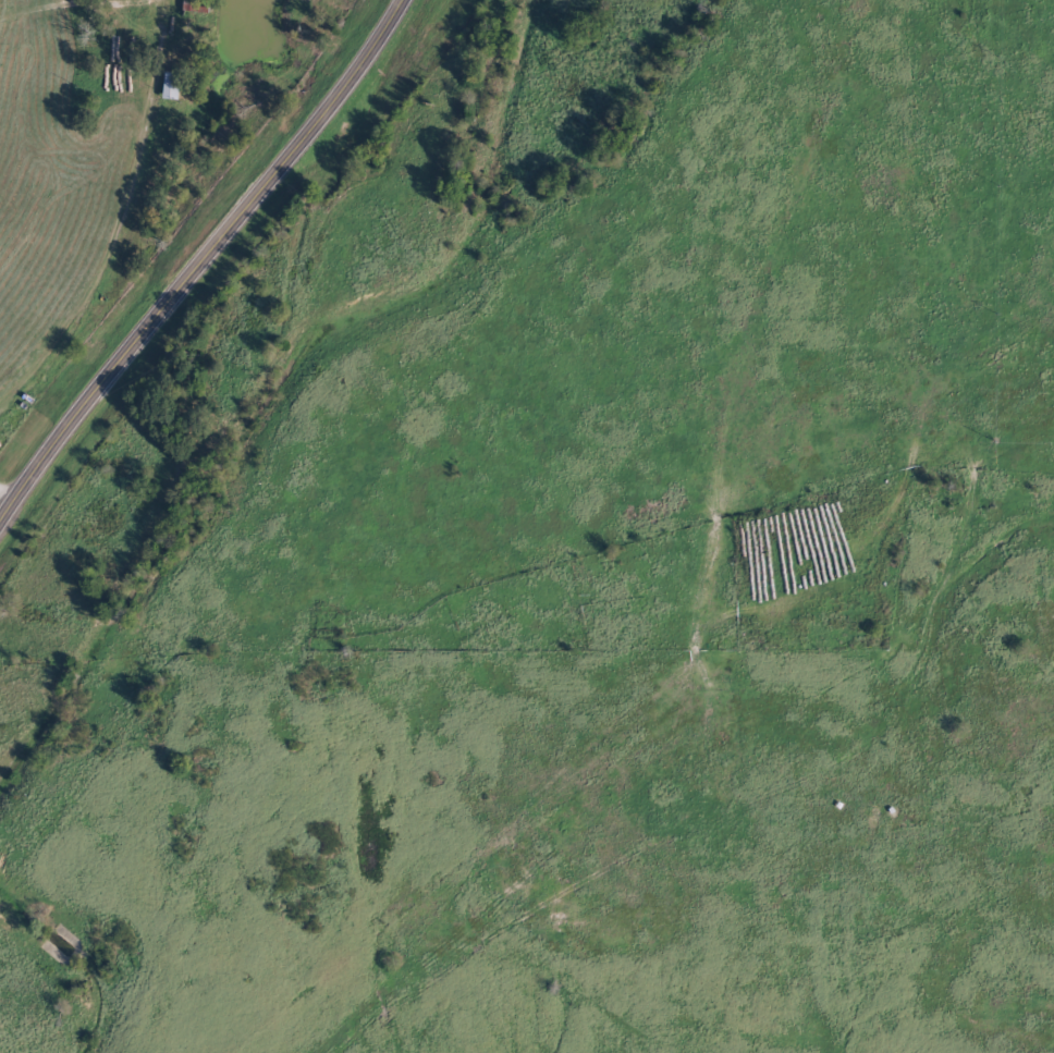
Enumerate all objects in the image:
building: (175, 87)
road: (527, 162)
road: (196, 260)

